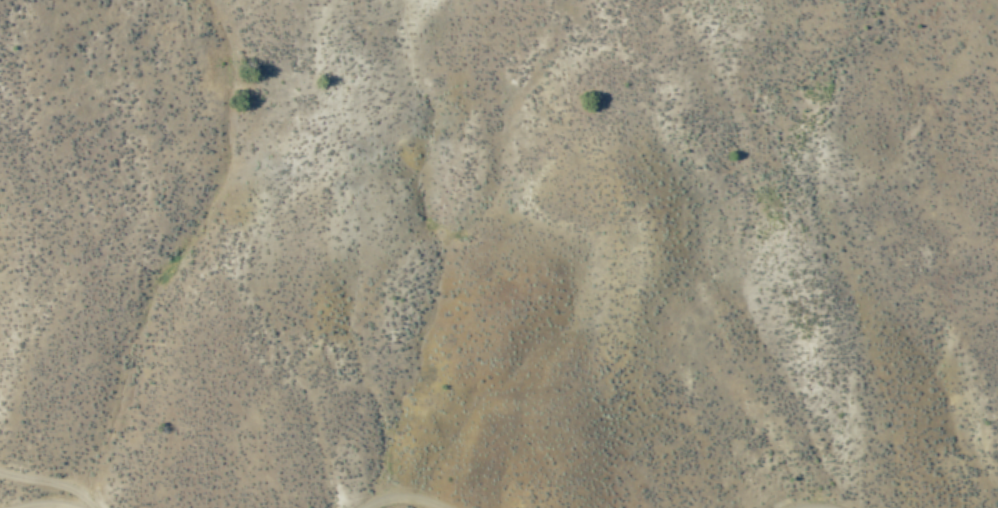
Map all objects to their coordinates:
road: (31, 488)
road: (403, 503)
road: (53, 505)
road: (69, 505)

